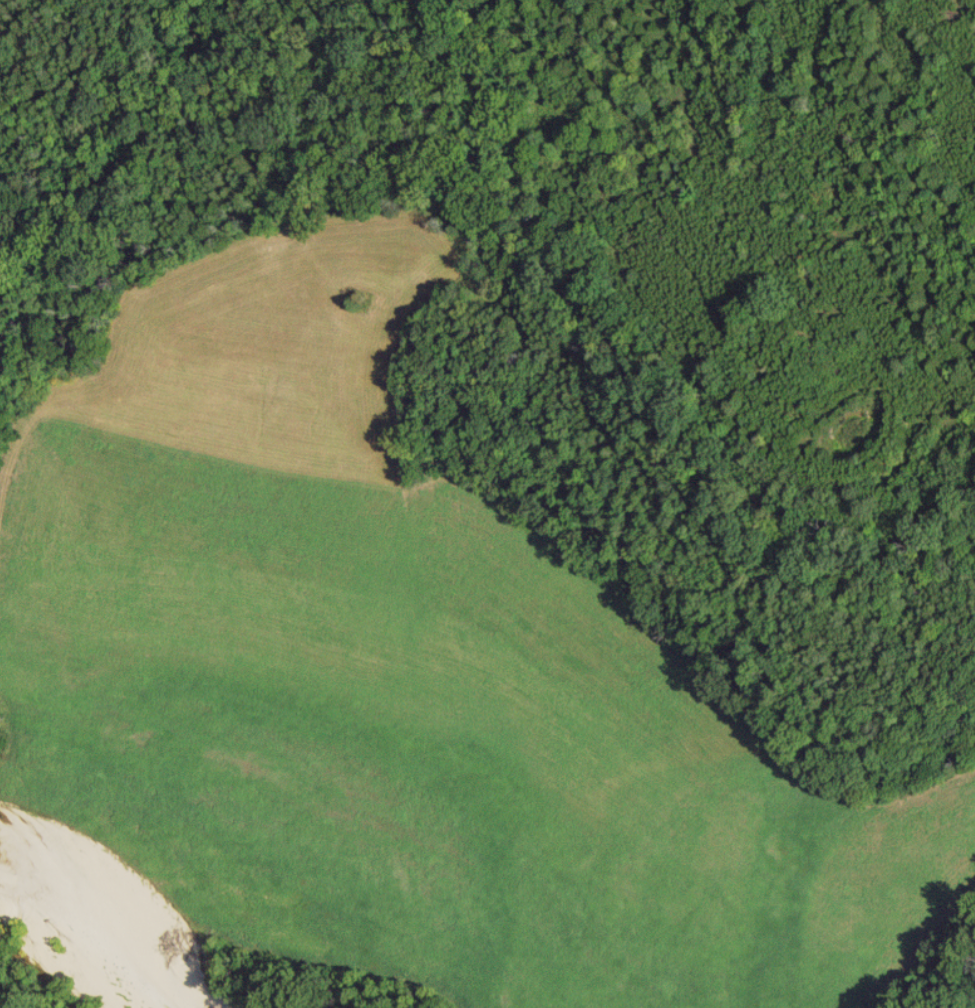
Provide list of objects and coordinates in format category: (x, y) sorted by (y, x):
road: (268, 222)
road: (949, 879)

